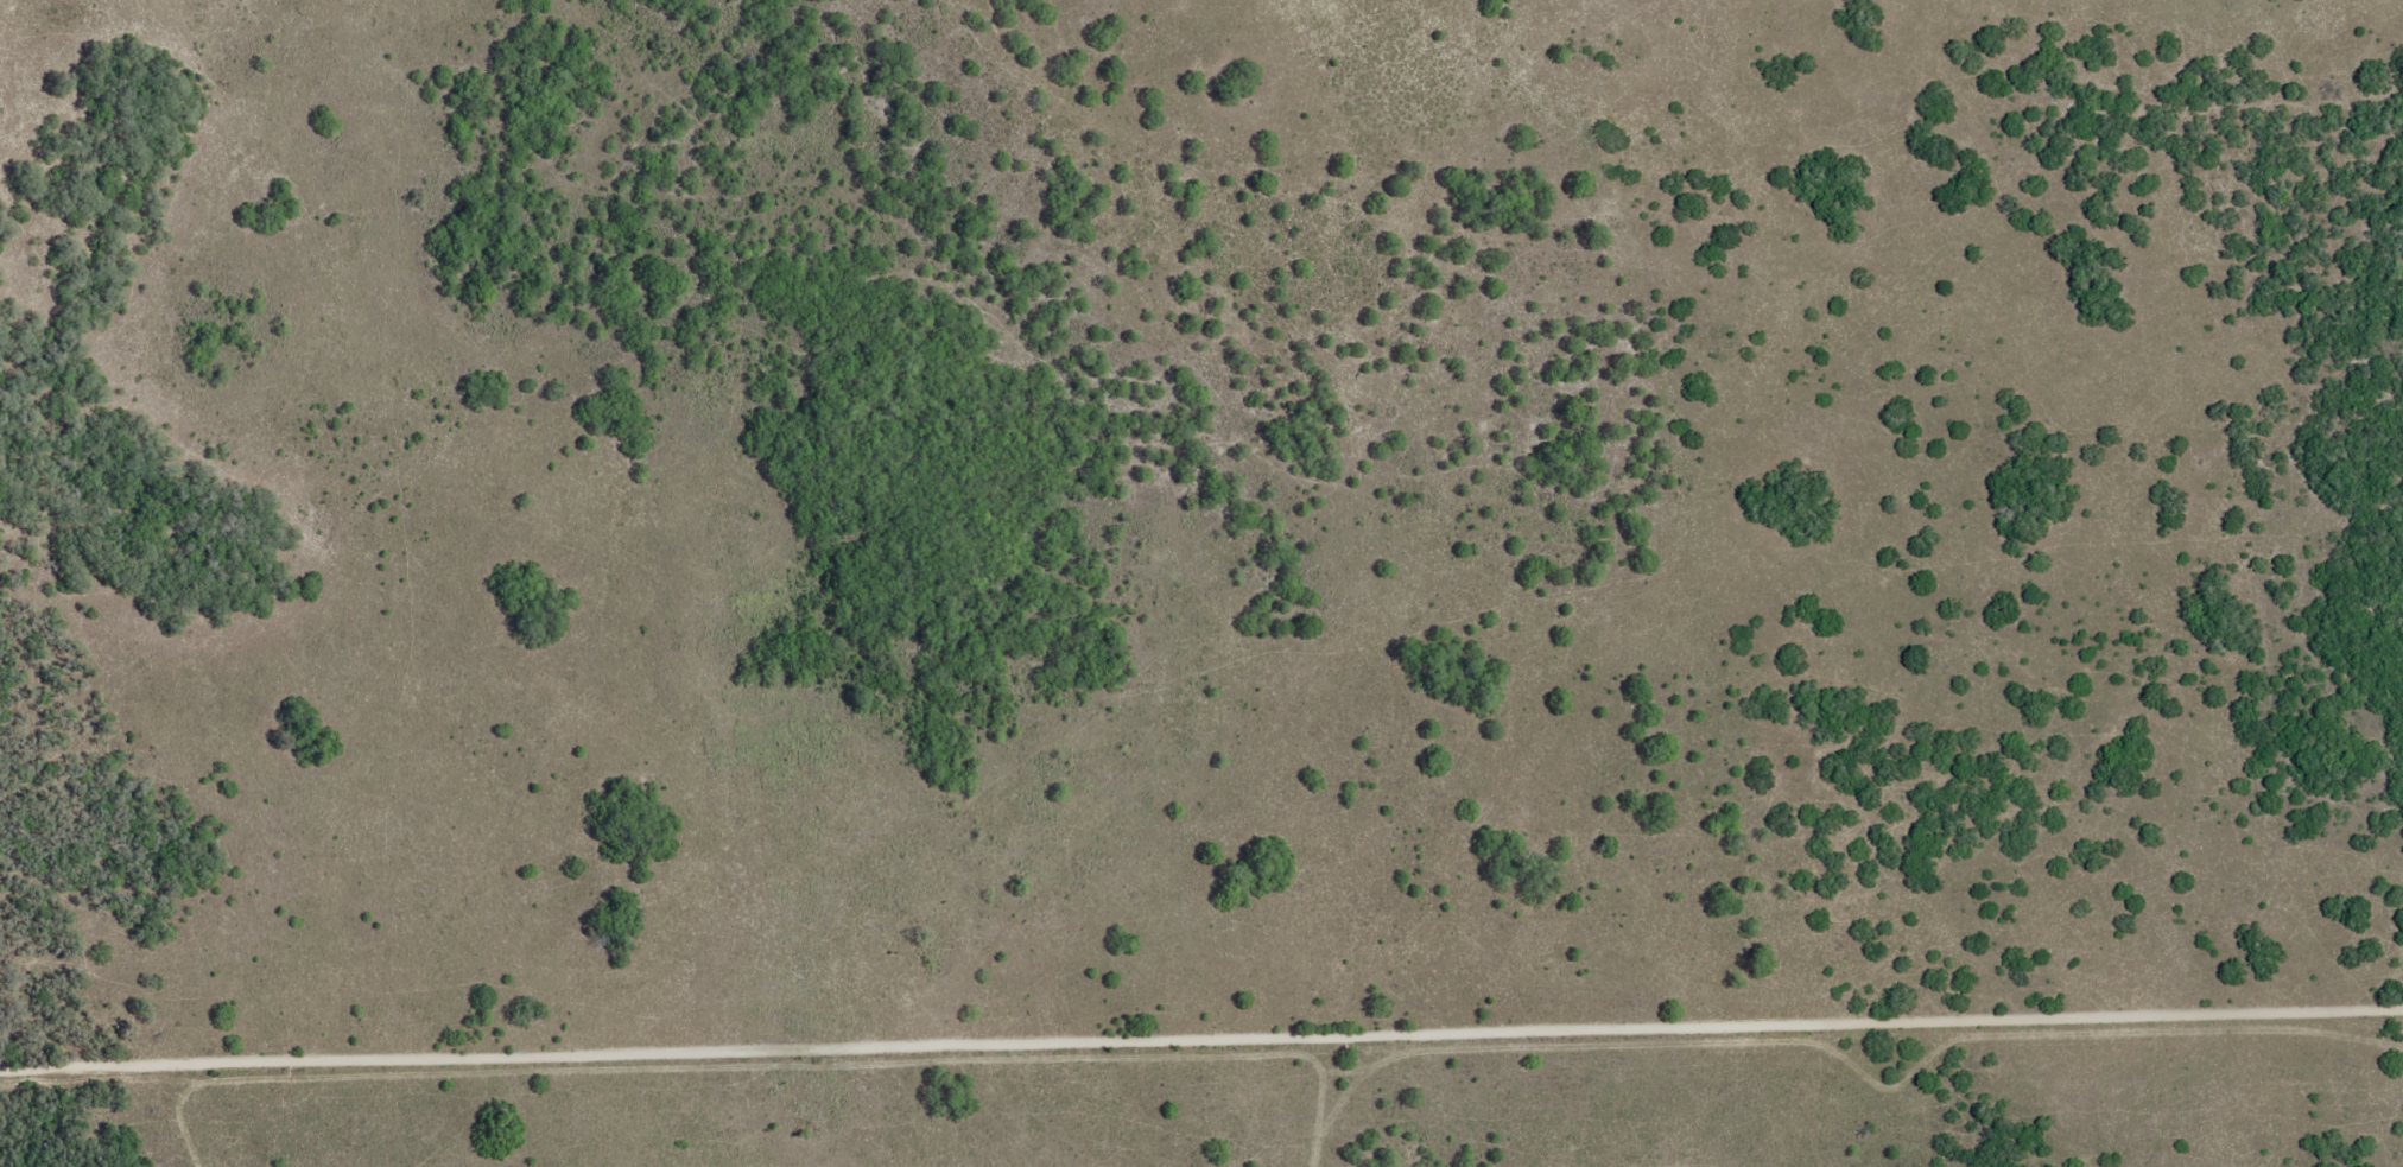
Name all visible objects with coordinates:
road: (2218, 421)

